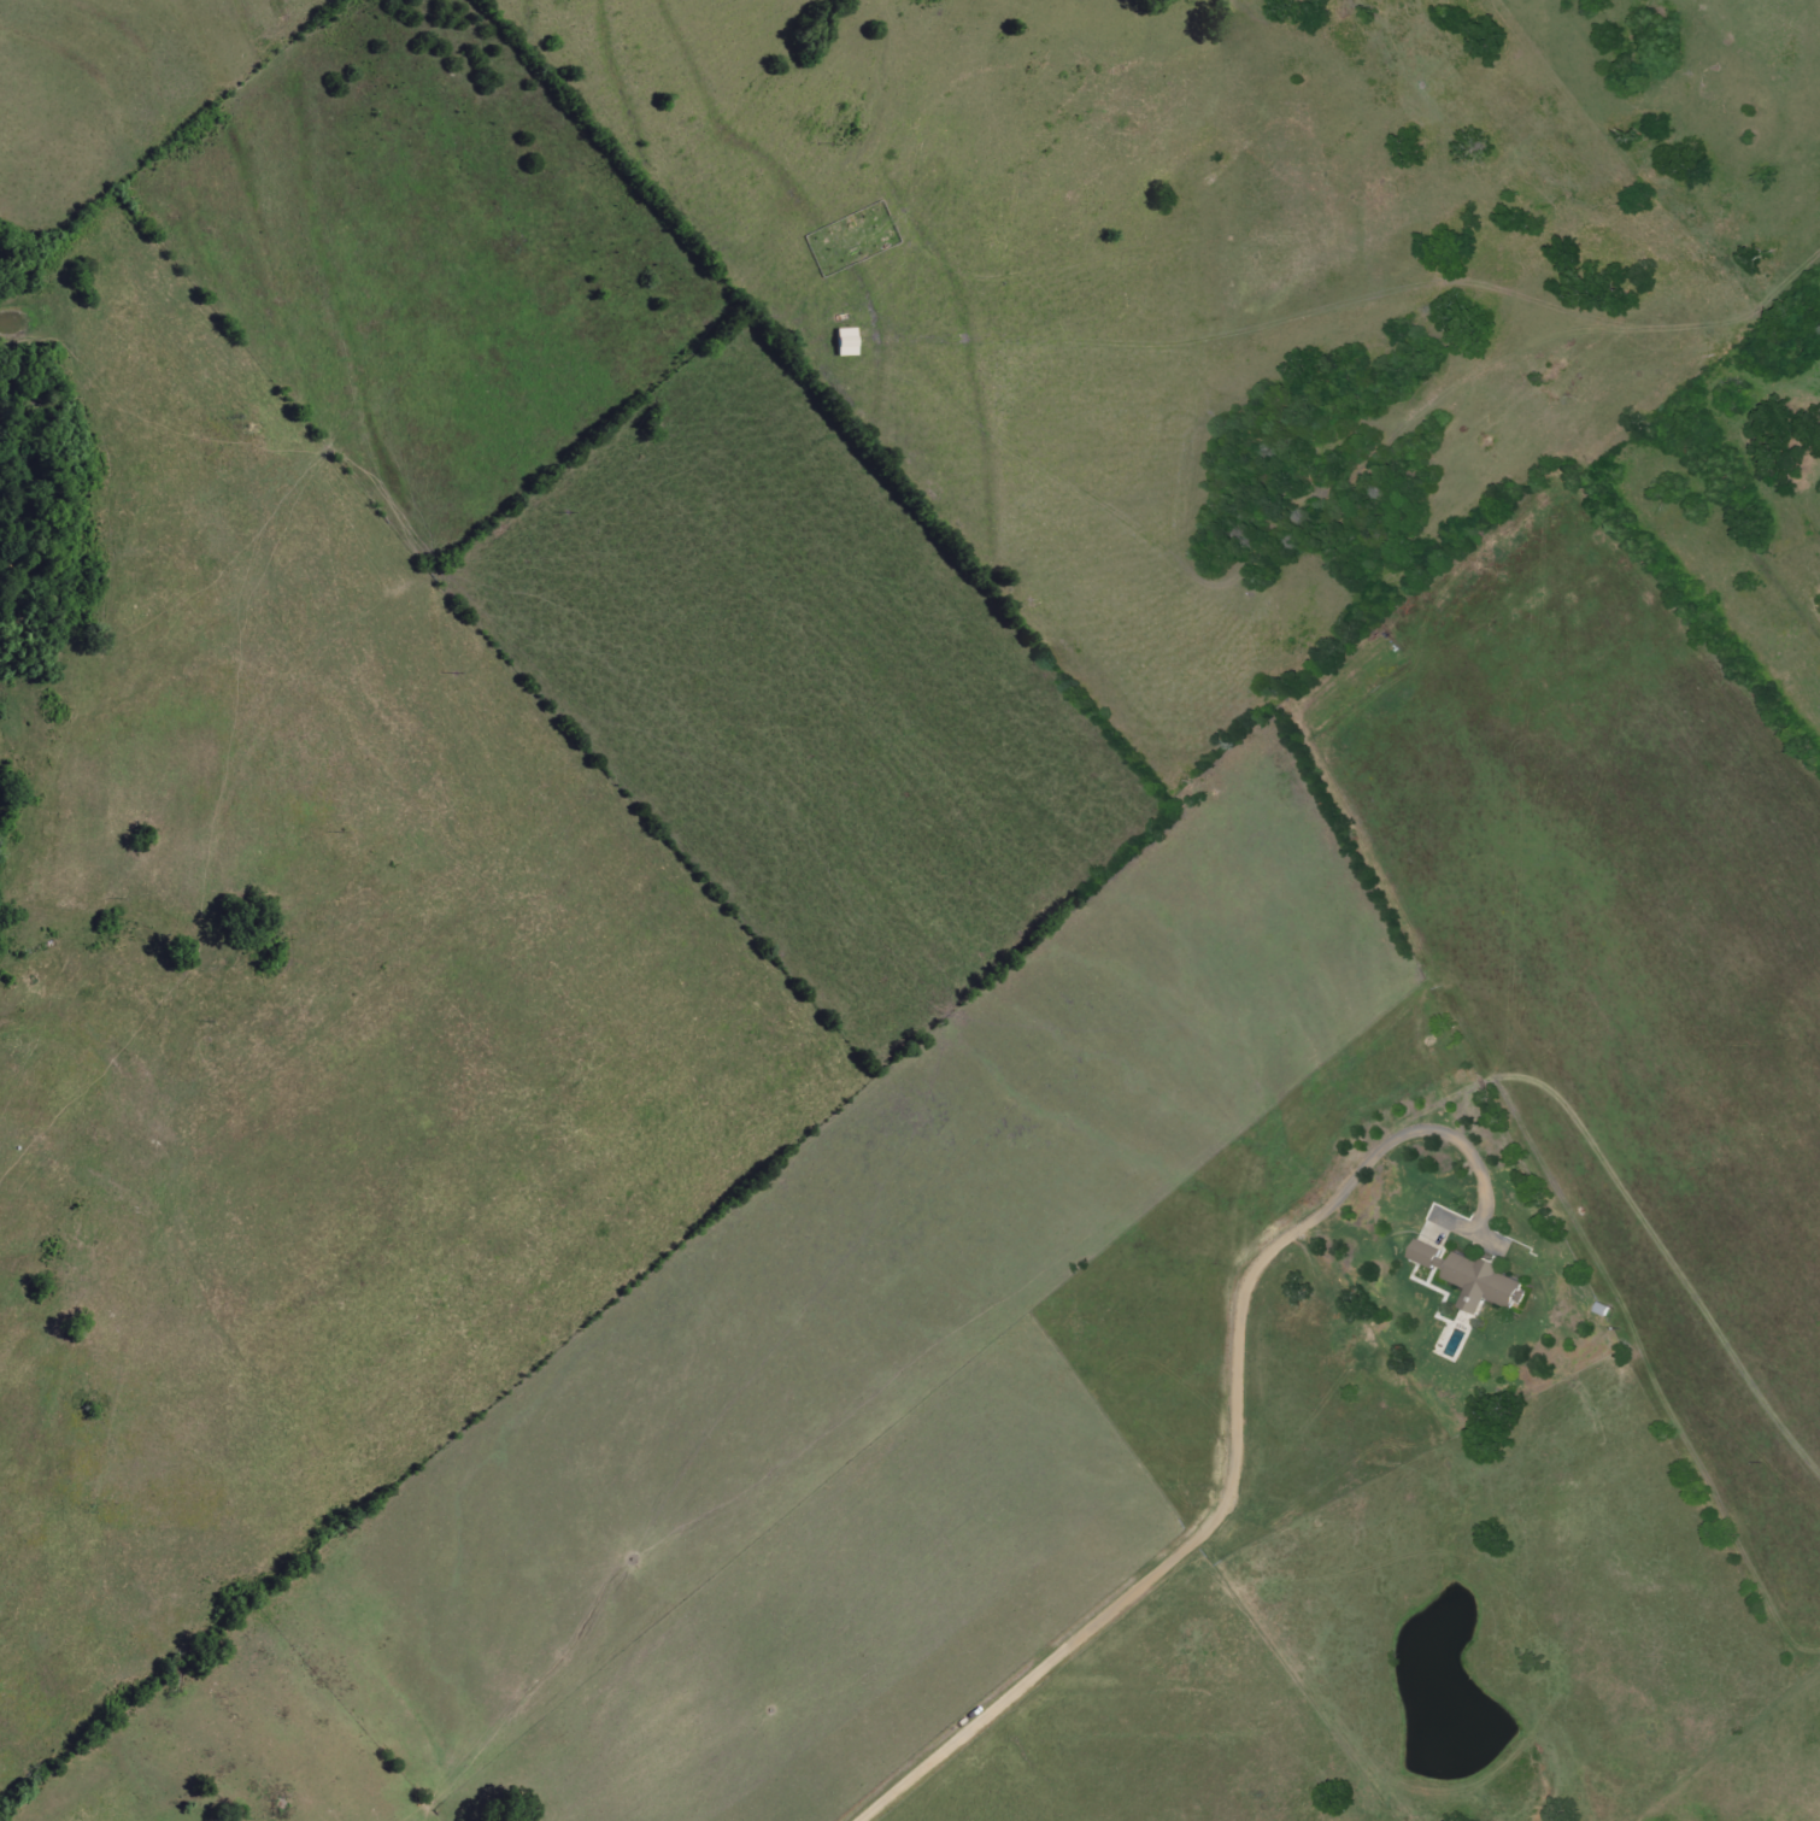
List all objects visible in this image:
building: (1476, 1279)

